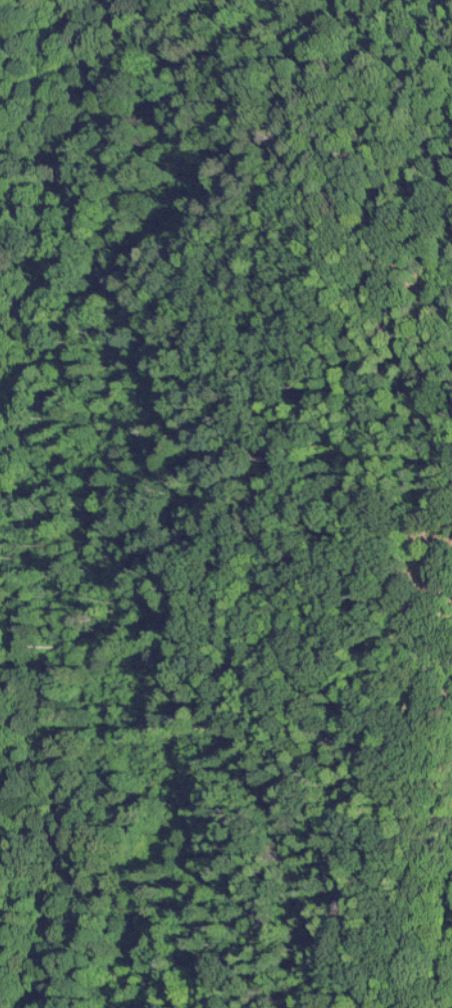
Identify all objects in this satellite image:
road: (408, 889)

